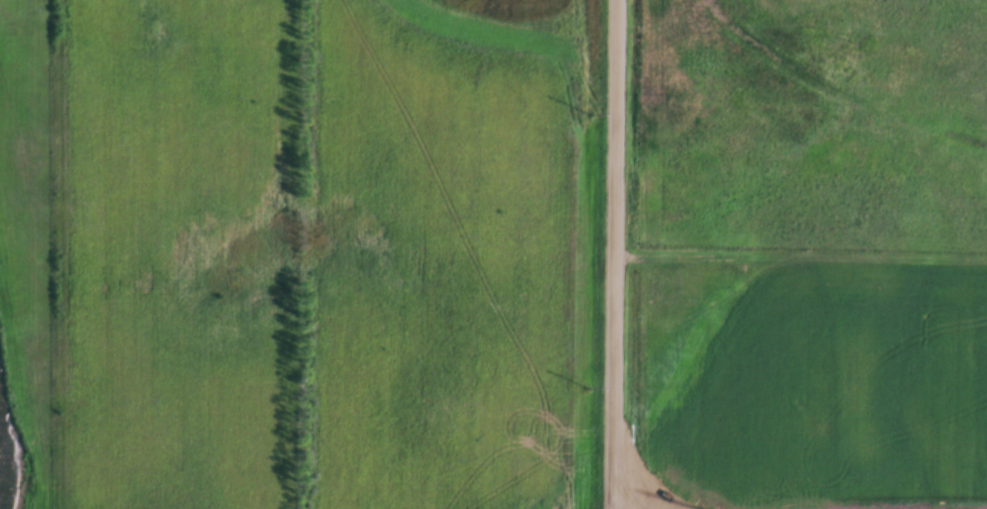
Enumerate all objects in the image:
road: (614, 254)

